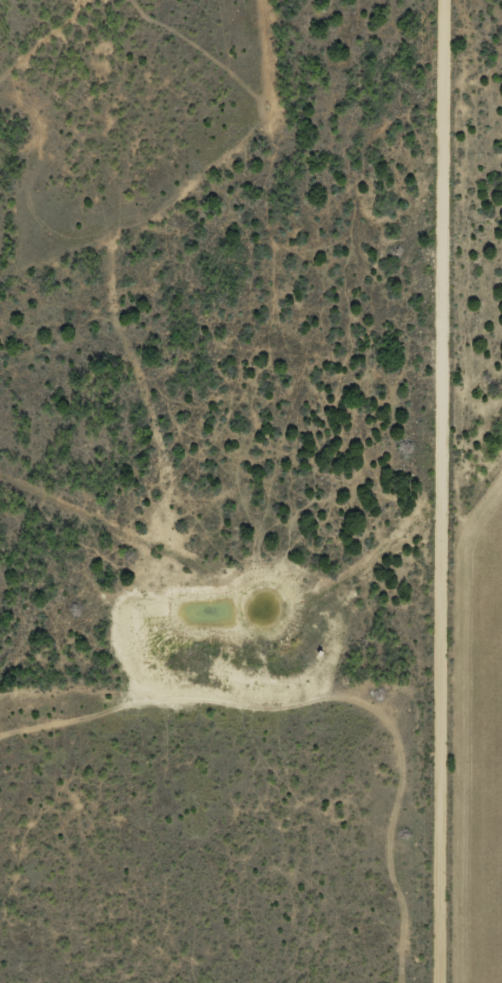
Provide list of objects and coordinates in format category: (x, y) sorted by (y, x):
road: (436, 491)

